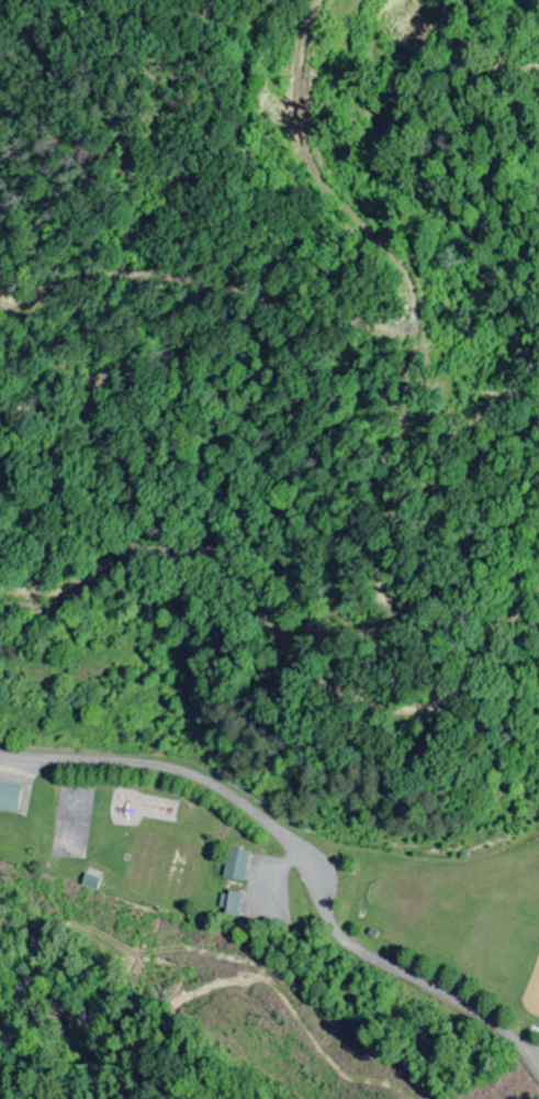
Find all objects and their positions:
building: (13, 797)
building: (240, 863)

